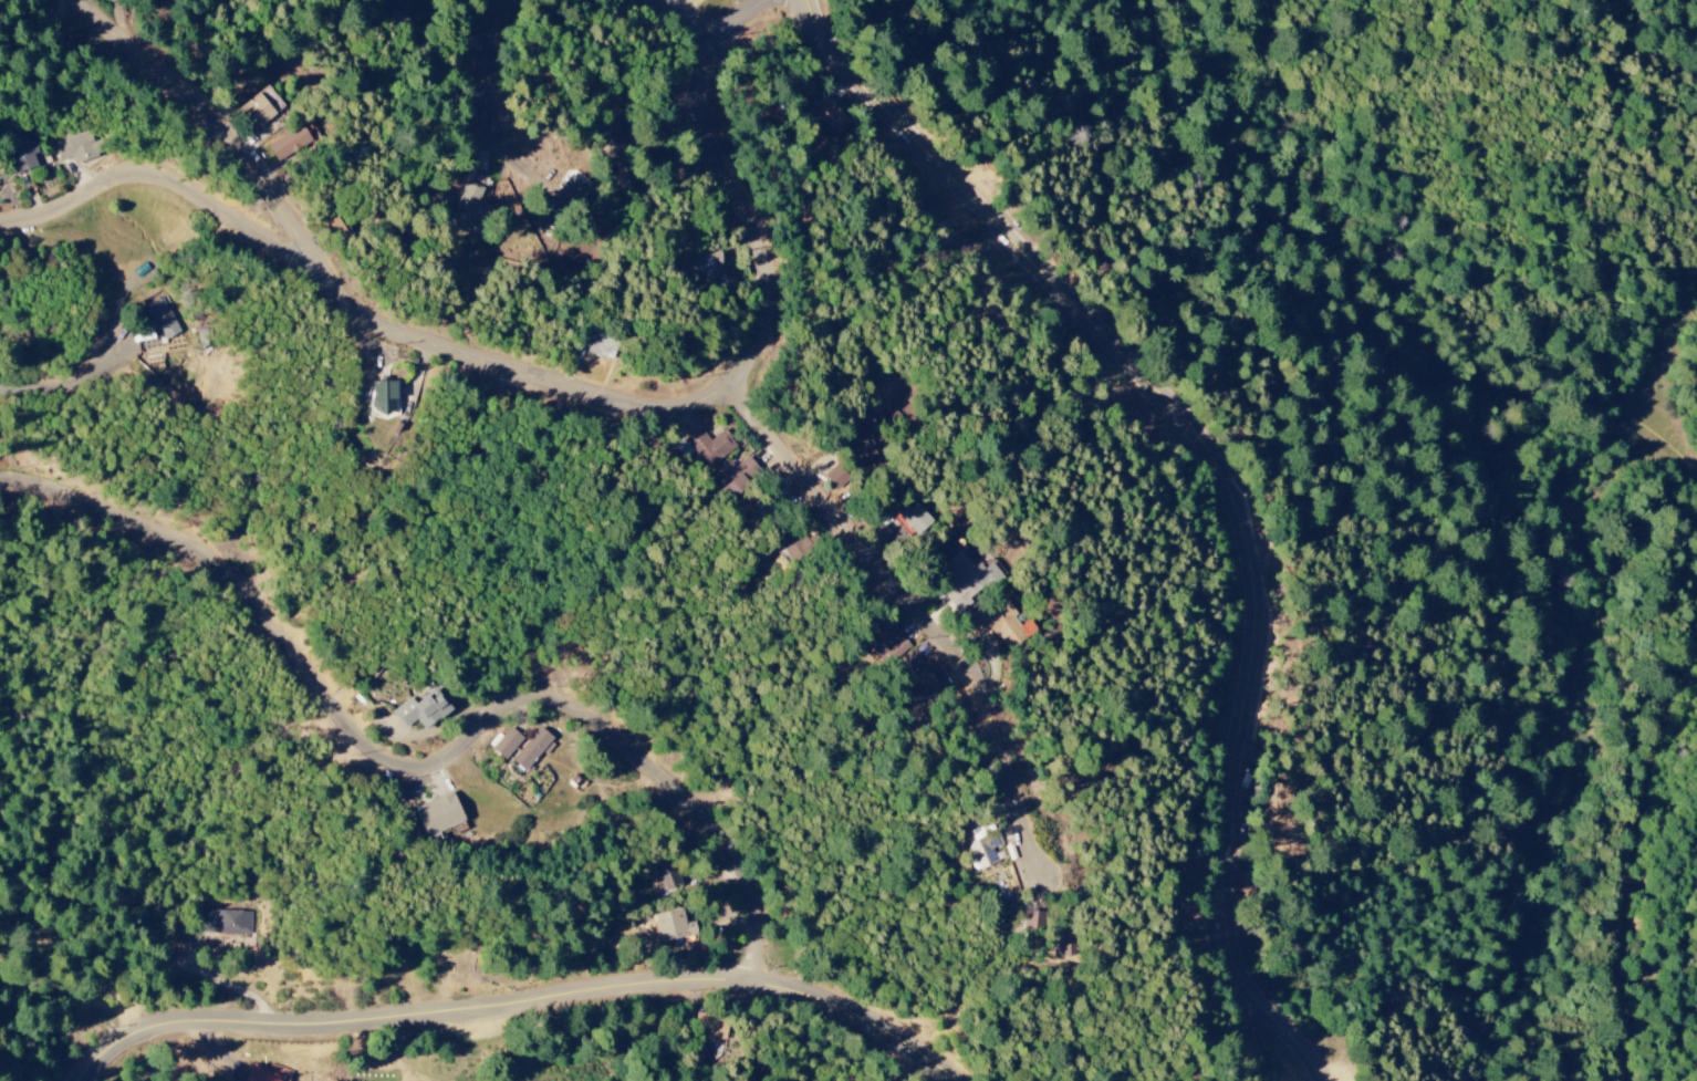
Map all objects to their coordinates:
building: (393, 4)
road: (697, 21)
road: (498, 63)
building: (260, 108)
building: (612, 116)
building: (829, 117)
building: (289, 143)
building: (74, 147)
building: (20, 150)
road: (173, 177)
building: (568, 195)
building: (464, 208)
building: (704, 264)
building: (162, 319)
building: (601, 346)
road: (566, 382)
road: (66, 386)
building: (382, 399)
building: (858, 444)
building: (704, 448)
building: (733, 477)
building: (836, 477)
road: (1235, 480)
building: (912, 513)
building: (967, 579)
road: (922, 610)
building: (997, 621)
building: (887, 641)
building: (916, 675)
building: (421, 710)
building: (506, 742)
building: (532, 749)
road: (426, 761)
building: (438, 814)
road: (1665, 819)
building: (982, 852)
building: (664, 875)
building: (1031, 919)
building: (223, 922)
building: (670, 925)
building: (1065, 940)
road: (530, 1005)
road: (1638, 1009)
building: (710, 1027)
building: (260, 1074)

